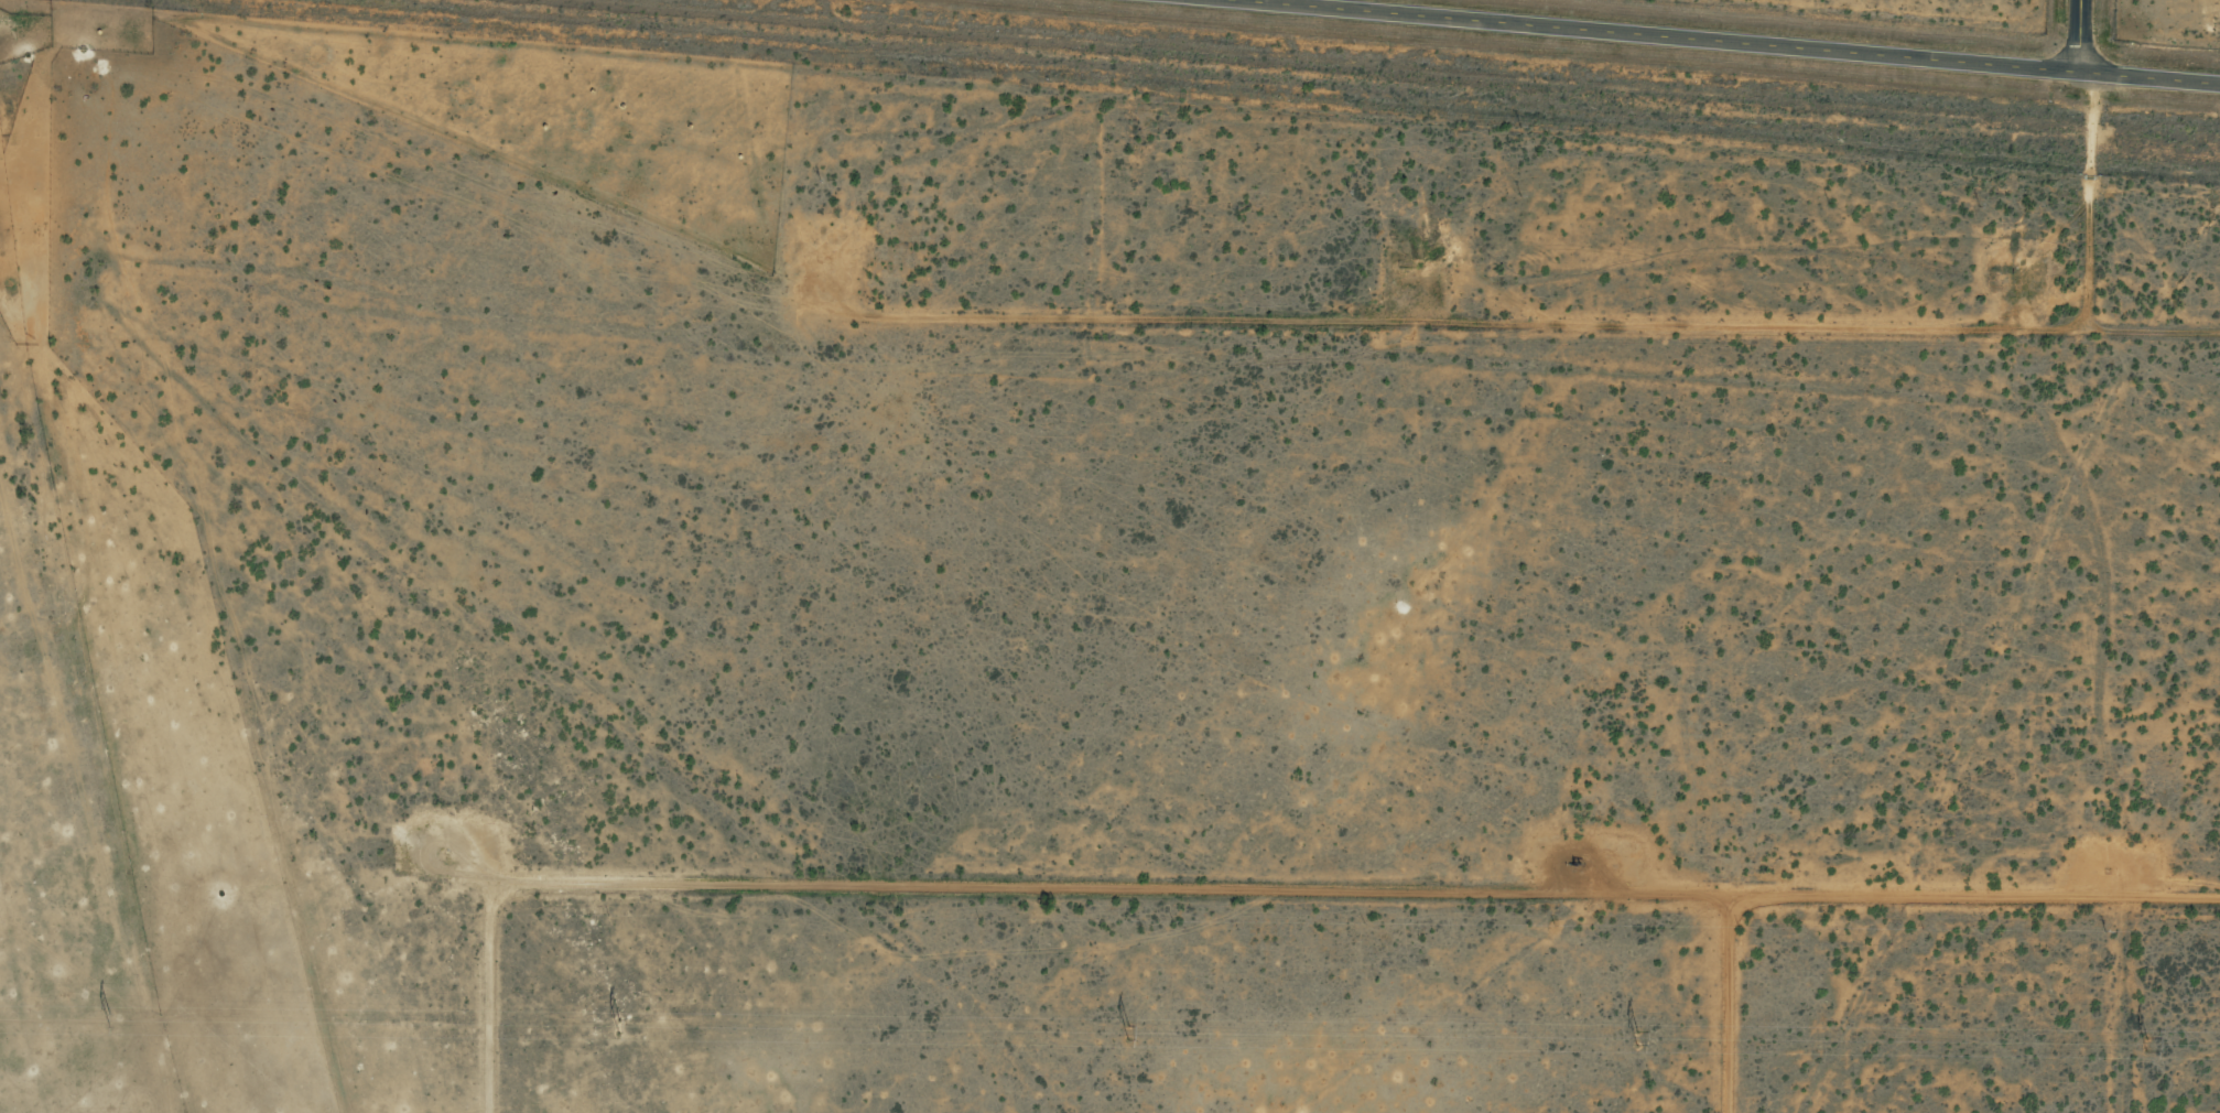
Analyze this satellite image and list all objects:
road: (2081, 35)
road: (1748, 42)
road: (1115, 360)
road: (1277, 904)
road: (2136, 1009)
power tower: (110, 1018)
power tower: (618, 1024)
power tower: (1127, 1031)
power tower: (1636, 1036)
power tower: (2146, 1040)

